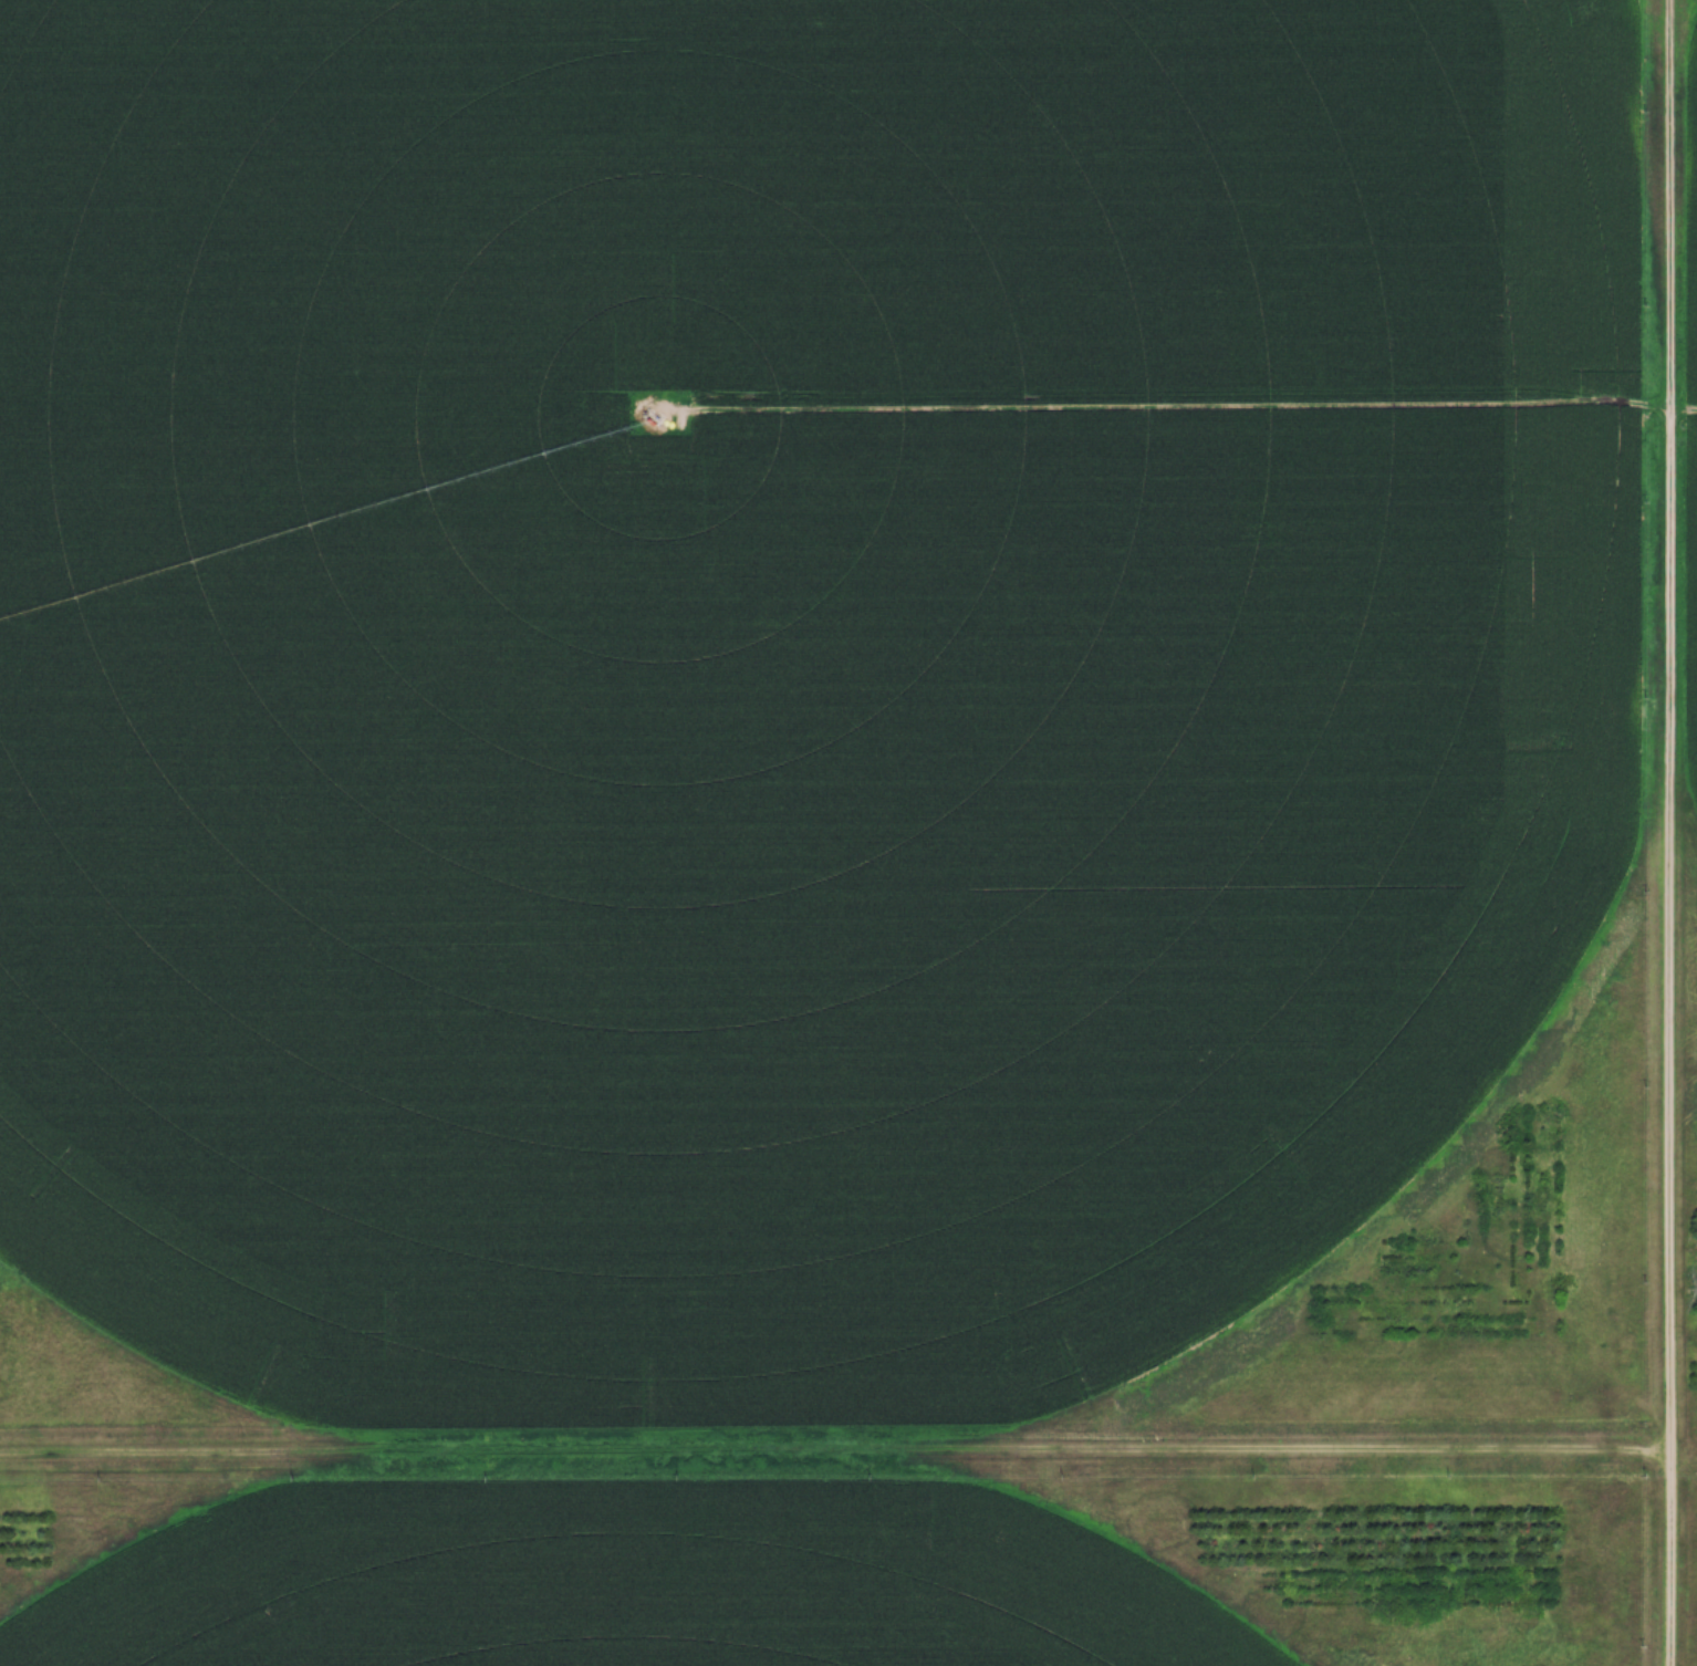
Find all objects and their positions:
road: (1660, 832)
road: (1684, 1455)
road: (835, 1458)

